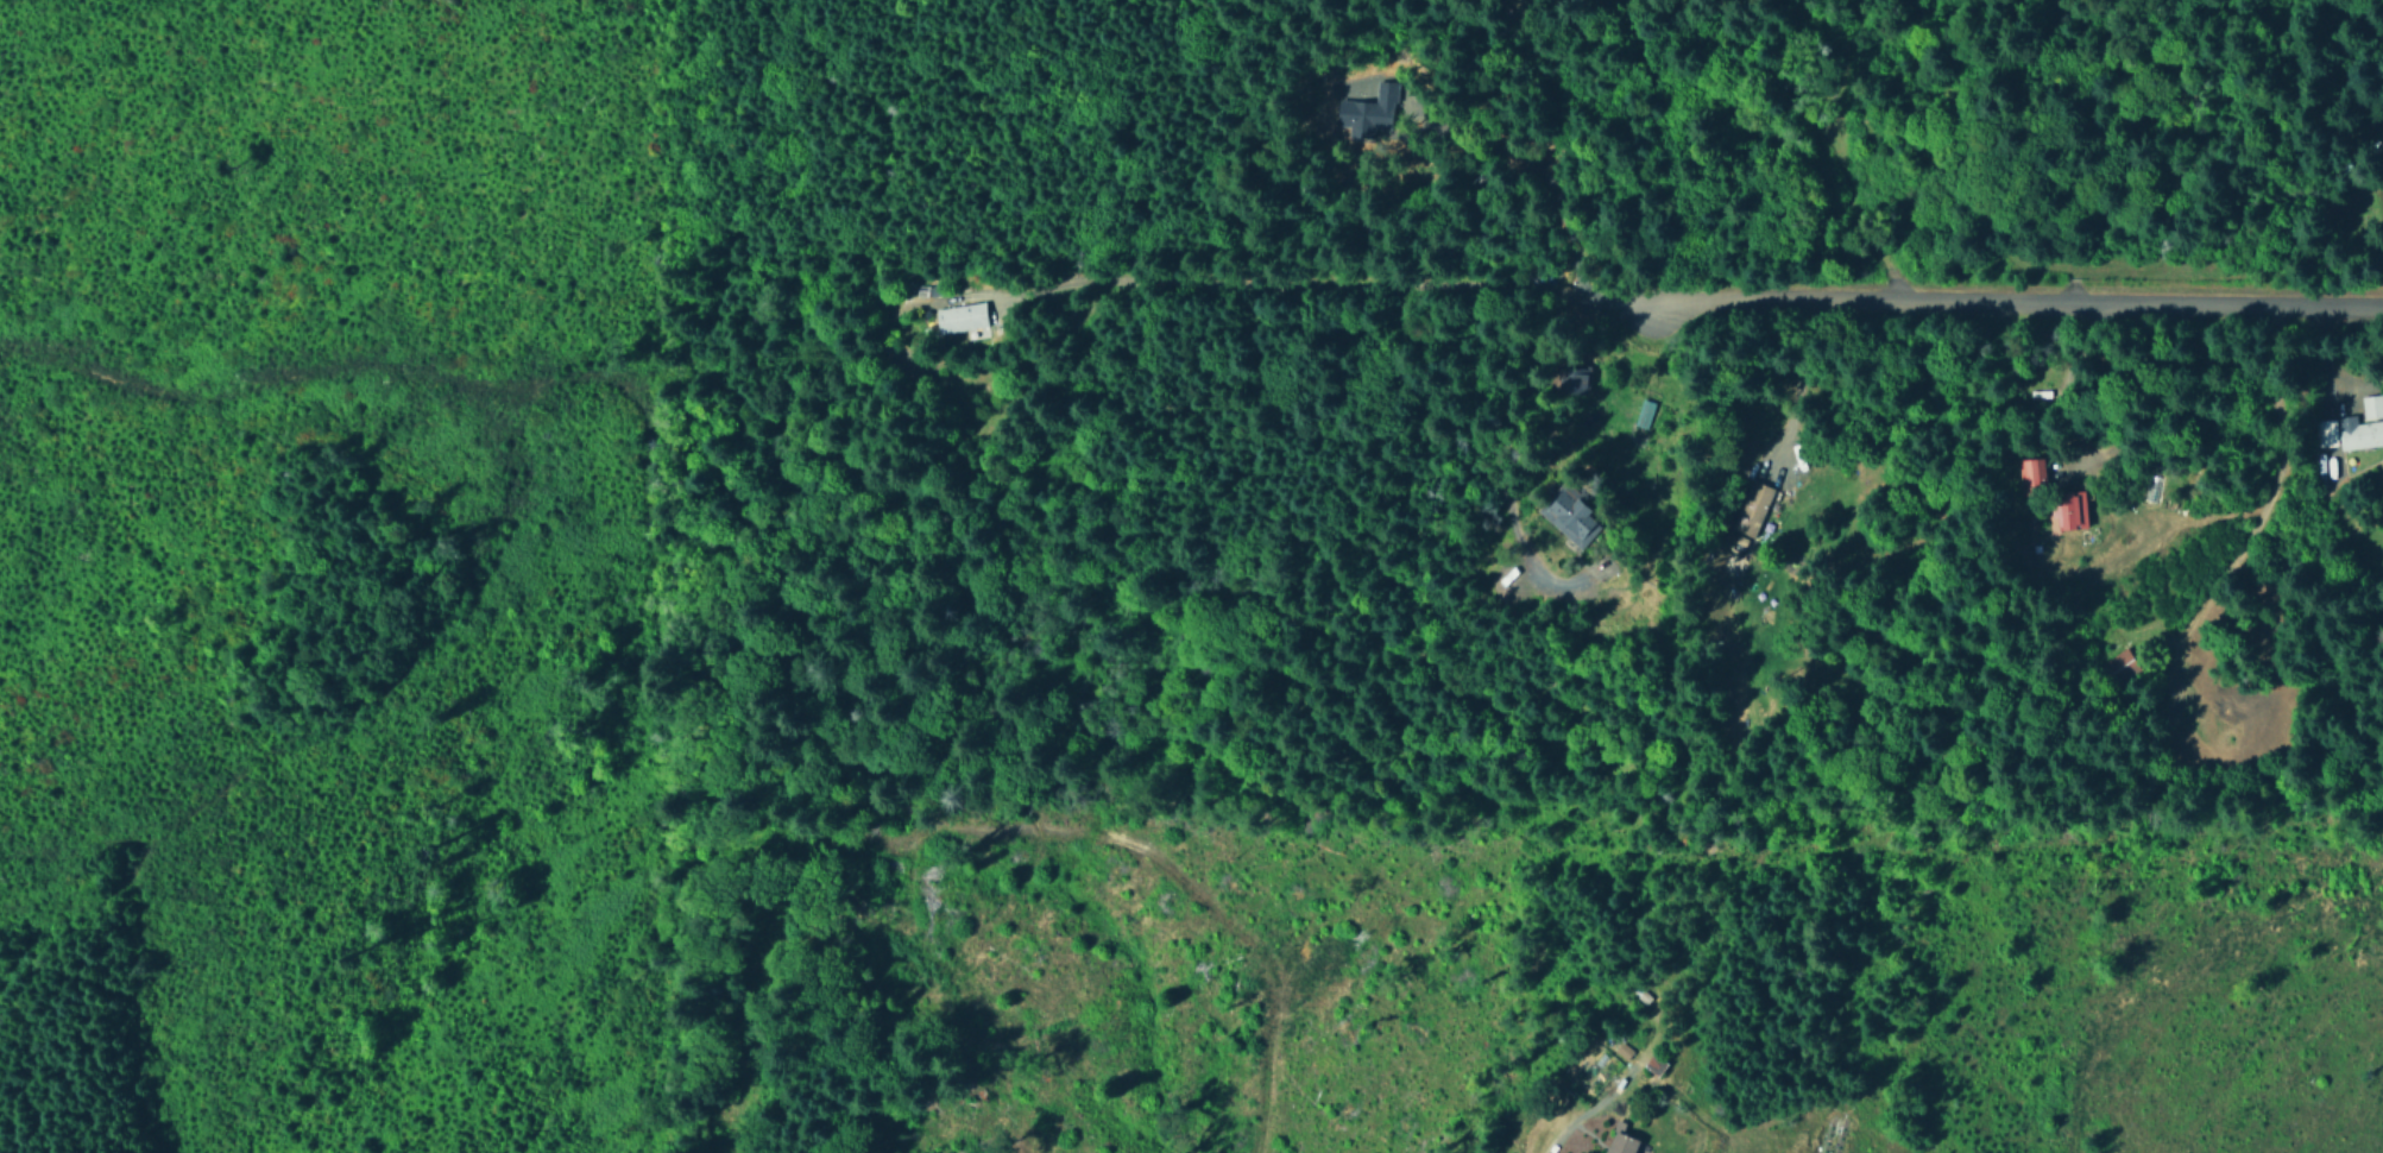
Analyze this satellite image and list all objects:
building: (1531, 0)
building: (1360, 112)
road: (2023, 301)
building: (1572, 378)
building: (1643, 412)
building: (2353, 427)
building: (2031, 471)
building: (1752, 508)
building: (2068, 510)
building: (1570, 516)
building: (2119, 666)
building: (1653, 1064)
building: (1619, 1140)

